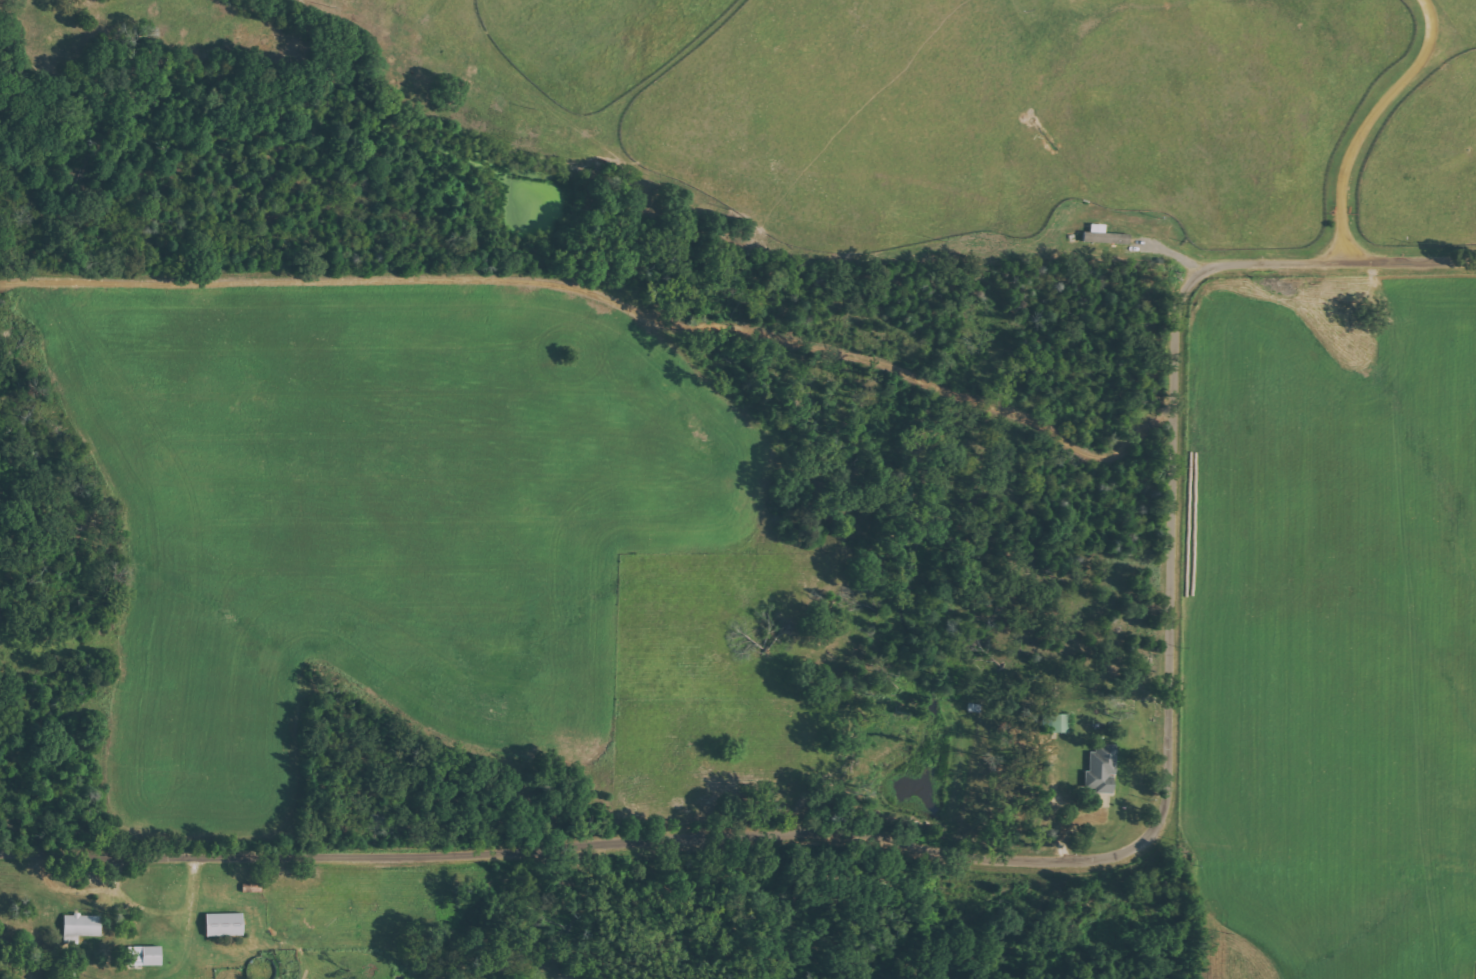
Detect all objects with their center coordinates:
road: (1374, 121)
building: (1101, 235)
building: (1058, 722)
building: (1100, 769)
road: (1001, 853)
building: (227, 924)
building: (83, 927)
building: (147, 955)

